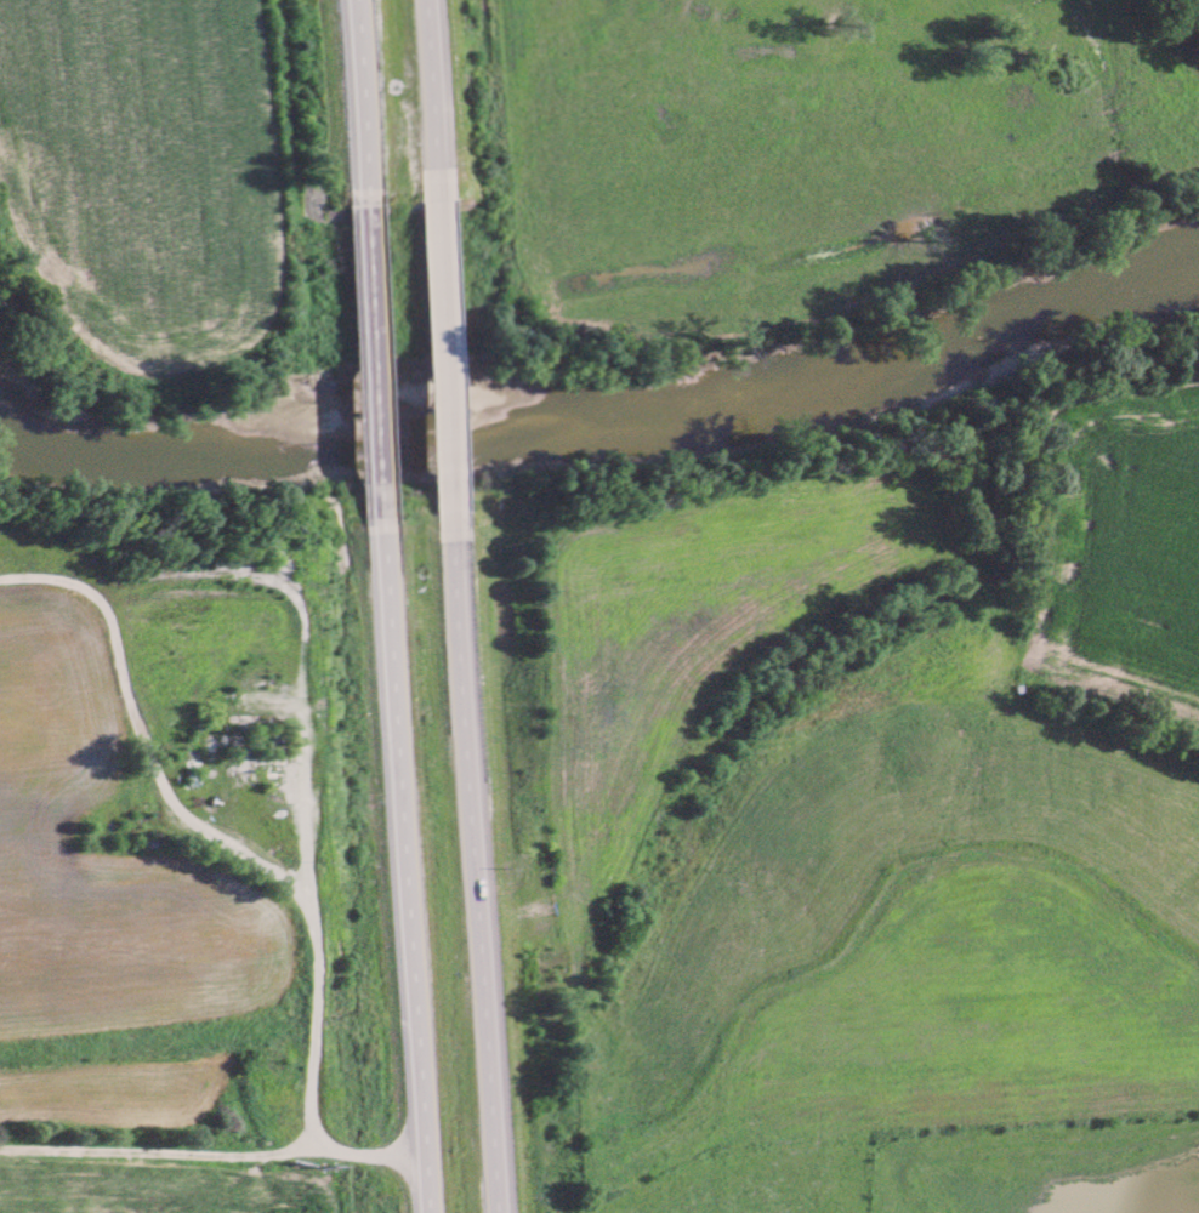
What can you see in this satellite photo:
road: (357, 97)
road: (428, 99)
road: (444, 353)
road: (374, 357)
river: (603, 402)
road: (475, 860)
road: (241, 862)
road: (404, 866)

